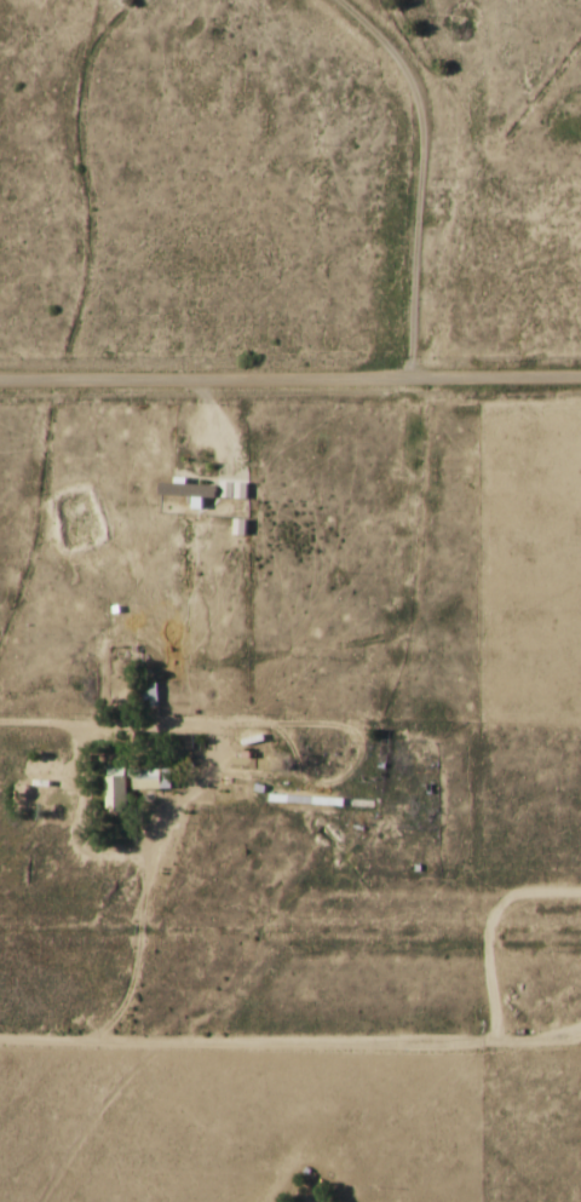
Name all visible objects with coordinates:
road: (290, 385)
building: (150, 694)
building: (151, 778)
building: (116, 792)

